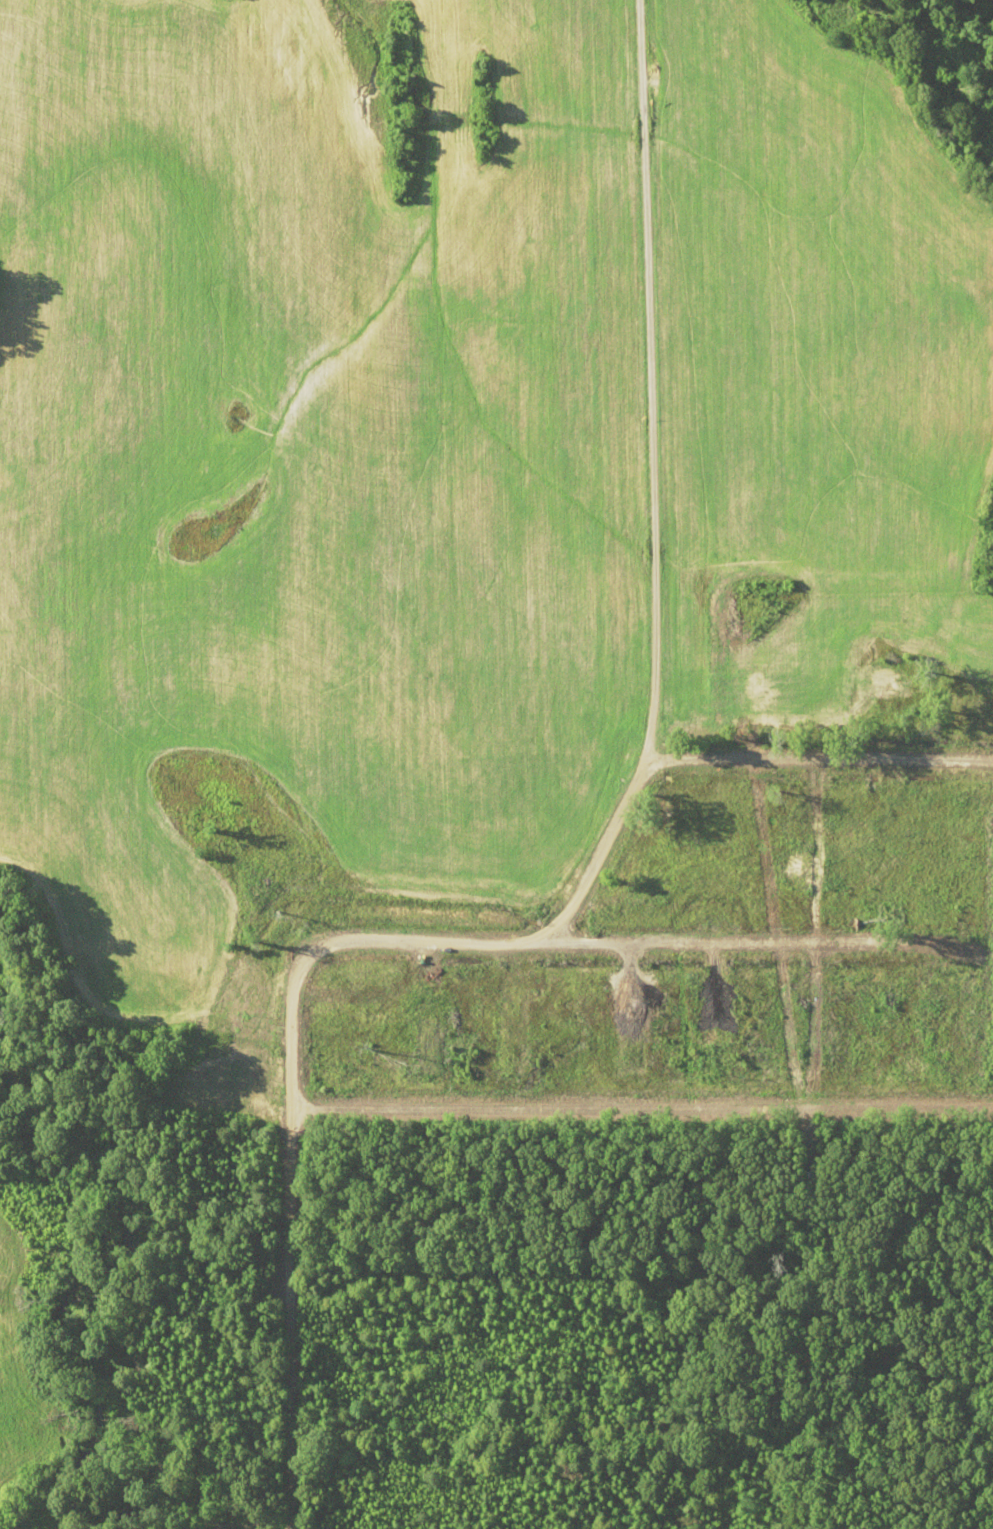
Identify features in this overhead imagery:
road: (645, 380)
road: (407, 942)
road: (643, 1105)

